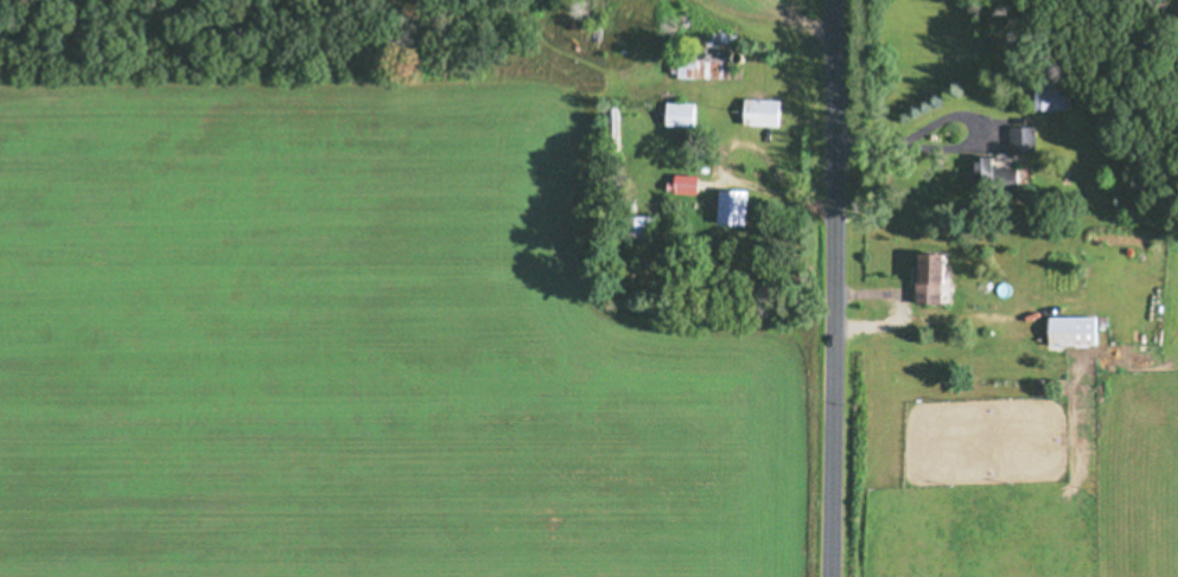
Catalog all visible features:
crop: (765, 21)
building: (701, 62)
building: (1045, 95)
building: (757, 111)
building: (675, 114)
building: (609, 128)
road: (918, 135)
building: (1011, 139)
building: (985, 172)
building: (677, 184)
building: (728, 207)
building: (635, 227)
building: (922, 278)
road: (830, 288)
building: (1069, 331)
crop: (367, 332)

